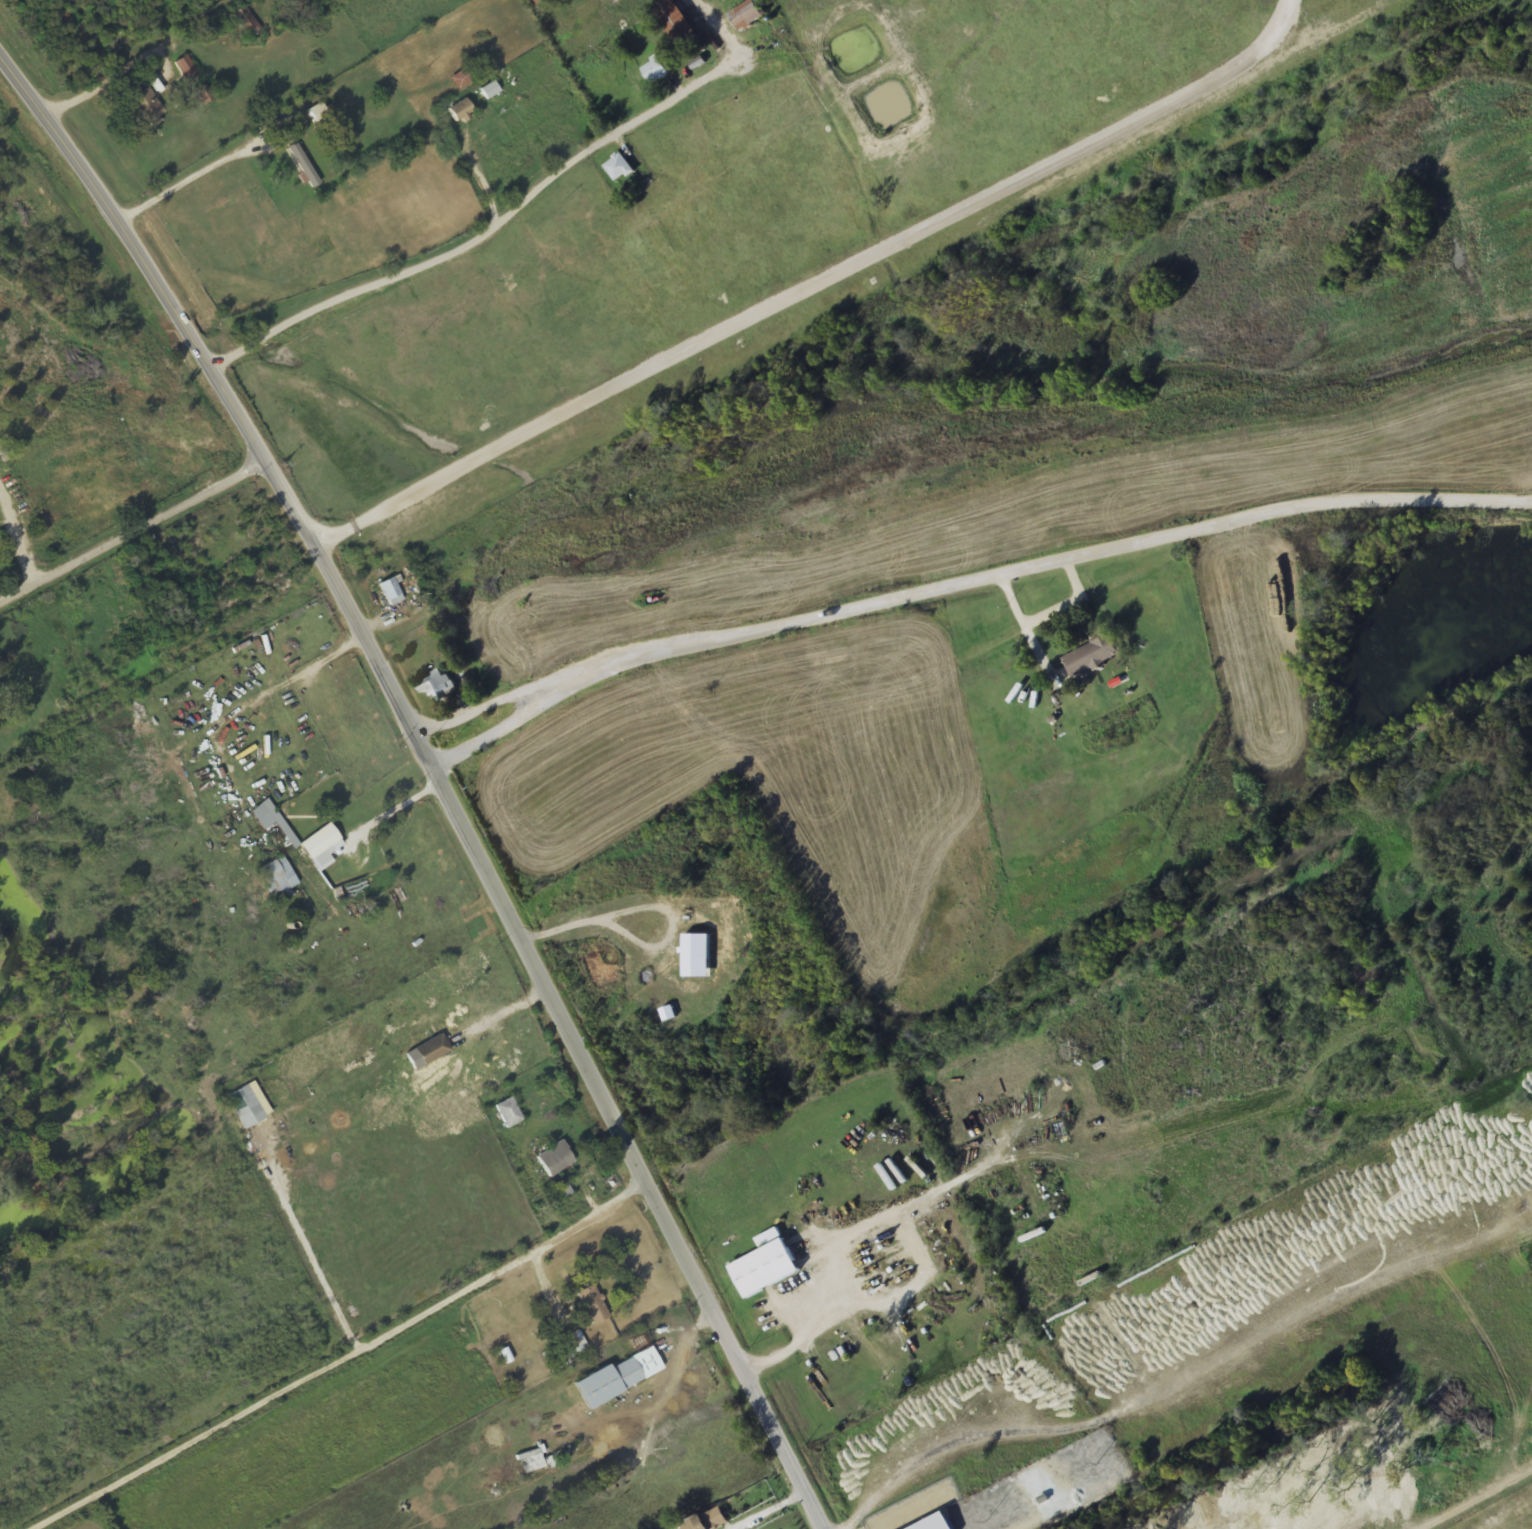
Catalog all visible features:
building: (544, 2)
building: (745, 15)
building: (675, 22)
building: (247, 24)
building: (185, 66)
building: (654, 70)
building: (461, 78)
building: (488, 90)
building: (205, 92)
building: (145, 105)
road: (57, 106)
building: (460, 110)
building: (424, 155)
building: (297, 157)
building: (618, 168)
road: (488, 236)
road: (134, 539)
road: (963, 582)
building: (391, 591)
building: (1091, 656)
building: (437, 686)
road: (435, 780)
building: (281, 826)
building: (278, 879)
building: (427, 1052)
building: (508, 1112)
building: (555, 1159)
building: (764, 1268)
building: (592, 1304)
road: (343, 1360)
building: (617, 1376)
building: (530, 1460)
building: (1036, 1484)
road: (1482, 1502)
building: (708, 1521)

